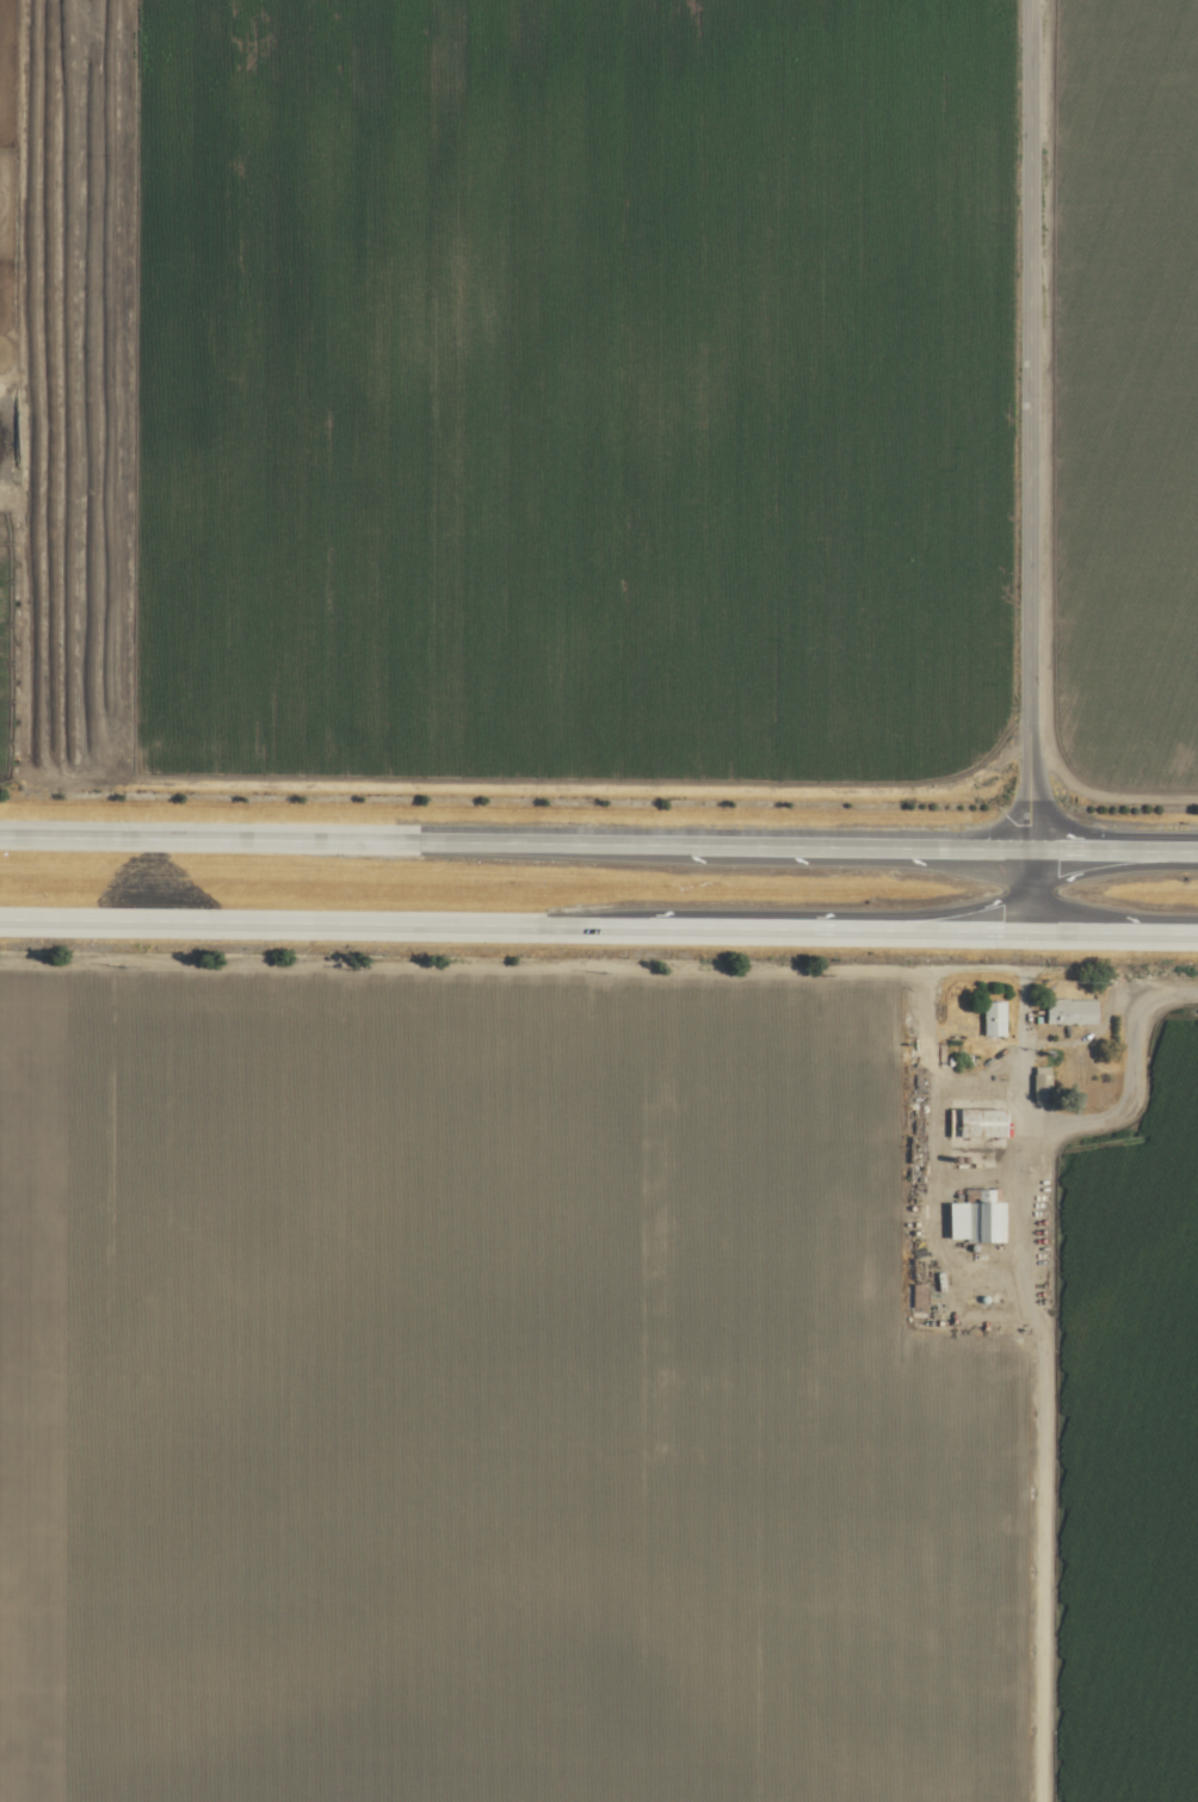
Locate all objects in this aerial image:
road: (1025, 465)
road: (512, 844)
road: (1111, 851)
road: (510, 924)
road: (1109, 931)
road: (499, 964)
building: (1067, 1010)
building: (988, 1017)
road: (1109, 1066)
road: (953, 1082)
building: (974, 1119)
road: (953, 1173)
road: (910, 1174)
building: (970, 1220)
road: (963, 1261)
building: (913, 1295)
road: (1017, 1383)

